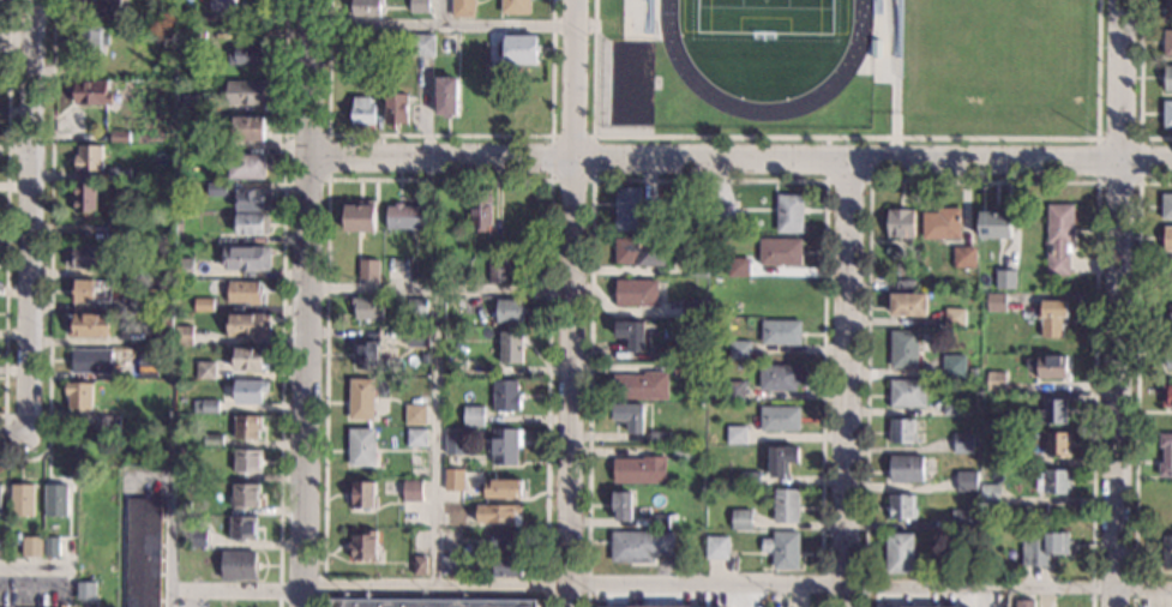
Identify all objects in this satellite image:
building: (220, 5)
building: (417, 6)
building: (366, 7)
building: (515, 7)
building: (462, 8)
building: (106, 10)
building: (1168, 10)
road: (441, 14)
park: (767, 14)
building: (184, 16)
building: (621, 16)
road: (440, 29)
building: (91, 40)
building: (1167, 43)
building: (421, 44)
building: (377, 46)
building: (519, 50)
building: (246, 55)
park: (987, 62)
building: (493, 72)
building: (1167, 78)
road: (1140, 84)
building: (247, 92)
building: (91, 94)
building: (470, 96)
building: (445, 97)
building: (188, 103)
building: (396, 108)
building: (362, 110)
track: (762, 110)
building: (880, 110)
building: (1167, 114)
building: (248, 128)
road: (438, 134)
road: (846, 136)
building: (118, 137)
building: (202, 156)
building: (88, 158)
road: (741, 162)
building: (247, 167)
building: (119, 174)
road: (326, 178)
road: (437, 178)
road: (824, 179)
road: (591, 180)
road: (707, 180)
road: (981, 180)
road: (1096, 180)
building: (216, 190)
building: (86, 197)
building: (253, 199)
building: (1166, 206)
road: (5, 209)
building: (481, 210)
building: (632, 211)
building: (789, 214)
building: (725, 216)
building: (405, 217)
building: (356, 220)
road: (28, 221)
building: (251, 223)
building: (900, 223)
building: (940, 224)
building: (988, 224)
building: (118, 230)
building: (1058, 238)
building: (1167, 239)
building: (178, 242)
road: (50, 250)
building: (639, 252)
building: (780, 252)
building: (85, 257)
building: (963, 257)
building: (246, 258)
building: (1011, 262)
building: (696, 265)
building: (344, 266)
building: (366, 266)
building: (182, 268)
building: (738, 268)
building: (497, 274)
building: (131, 275)
building: (1167, 276)
building: (1005, 278)
building: (906, 284)
building: (92, 290)
building: (636, 292)
building: (244, 293)
road: (440, 293)
building: (154, 300)
building: (996, 301)
road: (571, 302)
road: (1118, 302)
road: (281, 303)
road: (307, 303)
building: (204, 305)
building: (908, 305)
building: (693, 307)
building: (367, 308)
building: (416, 309)
building: (509, 311)
building: (1170, 317)
building: (954, 318)
building: (1052, 318)
building: (86, 324)
building: (161, 324)
building: (248, 325)
building: (781, 331)
building: (631, 333)
building: (182, 335)
building: (416, 337)
building: (511, 348)
building: (903, 349)
building: (739, 350)
building: (660, 353)
building: (369, 355)
building: (1168, 355)
building: (251, 357)
building: (425, 357)
building: (91, 361)
building: (954, 366)
building: (149, 367)
building: (1047, 367)
building: (453, 368)
building: (204, 369)
building: (683, 369)
building: (779, 377)
road: (1136, 377)
building: (994, 380)
road: (848, 384)
building: (641, 386)
building: (98, 389)
building: (250, 391)
building: (733, 391)
building: (907, 393)
building: (1167, 395)
building: (79, 396)
building: (505, 396)
building: (180, 399)
building: (360, 399)
building: (205, 405)
building: (952, 407)
building: (985, 409)
building: (1051, 411)
building: (414, 415)
building: (473, 416)
building: (630, 416)
building: (780, 419)
building: (110, 425)
building: (246, 427)
building: (903, 431)
building: (735, 434)
building: (379, 435)
road: (4, 437)
building: (659, 437)
building: (416, 438)
building: (197, 439)
road: (438, 439)
building: (212, 440)
road: (12, 441)
building: (455, 441)
building: (963, 444)
building: (1057, 444)
building: (506, 446)
building: (361, 447)
building: (180, 451)
building: (681, 452)
building: (1165, 455)
building: (999, 456)
building: (782, 459)
building: (247, 461)
building: (181, 468)
building: (639, 469)
building: (906, 469)
building: (751, 477)
building: (453, 480)
building: (966, 481)
building: (1052, 481)
building: (503, 488)
building: (411, 491)
building: (244, 494)
building: (362, 494)
building: (990, 494)
building: (23, 500)
building: (56, 500)
building: (0, 501)
building: (621, 505)
building: (186, 506)
building: (786, 506)
building: (902, 506)
building: (499, 513)
building: (453, 517)
building: (740, 519)
building: (659, 521)
building: (961, 521)
road: (169, 523)
building: (241, 528)
building: (197, 537)
building: (506, 541)
road: (120, 545)
building: (639, 545)
building: (52, 546)
building: (362, 546)
building: (31, 547)
building: (716, 547)
building: (1042, 547)
building: (465, 549)
building: (783, 549)
building: (72, 551)
building: (143, 552)
building: (1166, 552)
building: (900, 553)
road: (163, 559)
building: (238, 565)
building: (419, 566)
building: (450, 566)
building: (506, 566)
road: (30, 570)
road: (738, 584)
building: (85, 590)
road: (236, 593)
road: (1002, 596)
building: (427, 602)
building: (254, 603)
building: (1024, 603)
building: (216, 606)
building: (657, 606)

